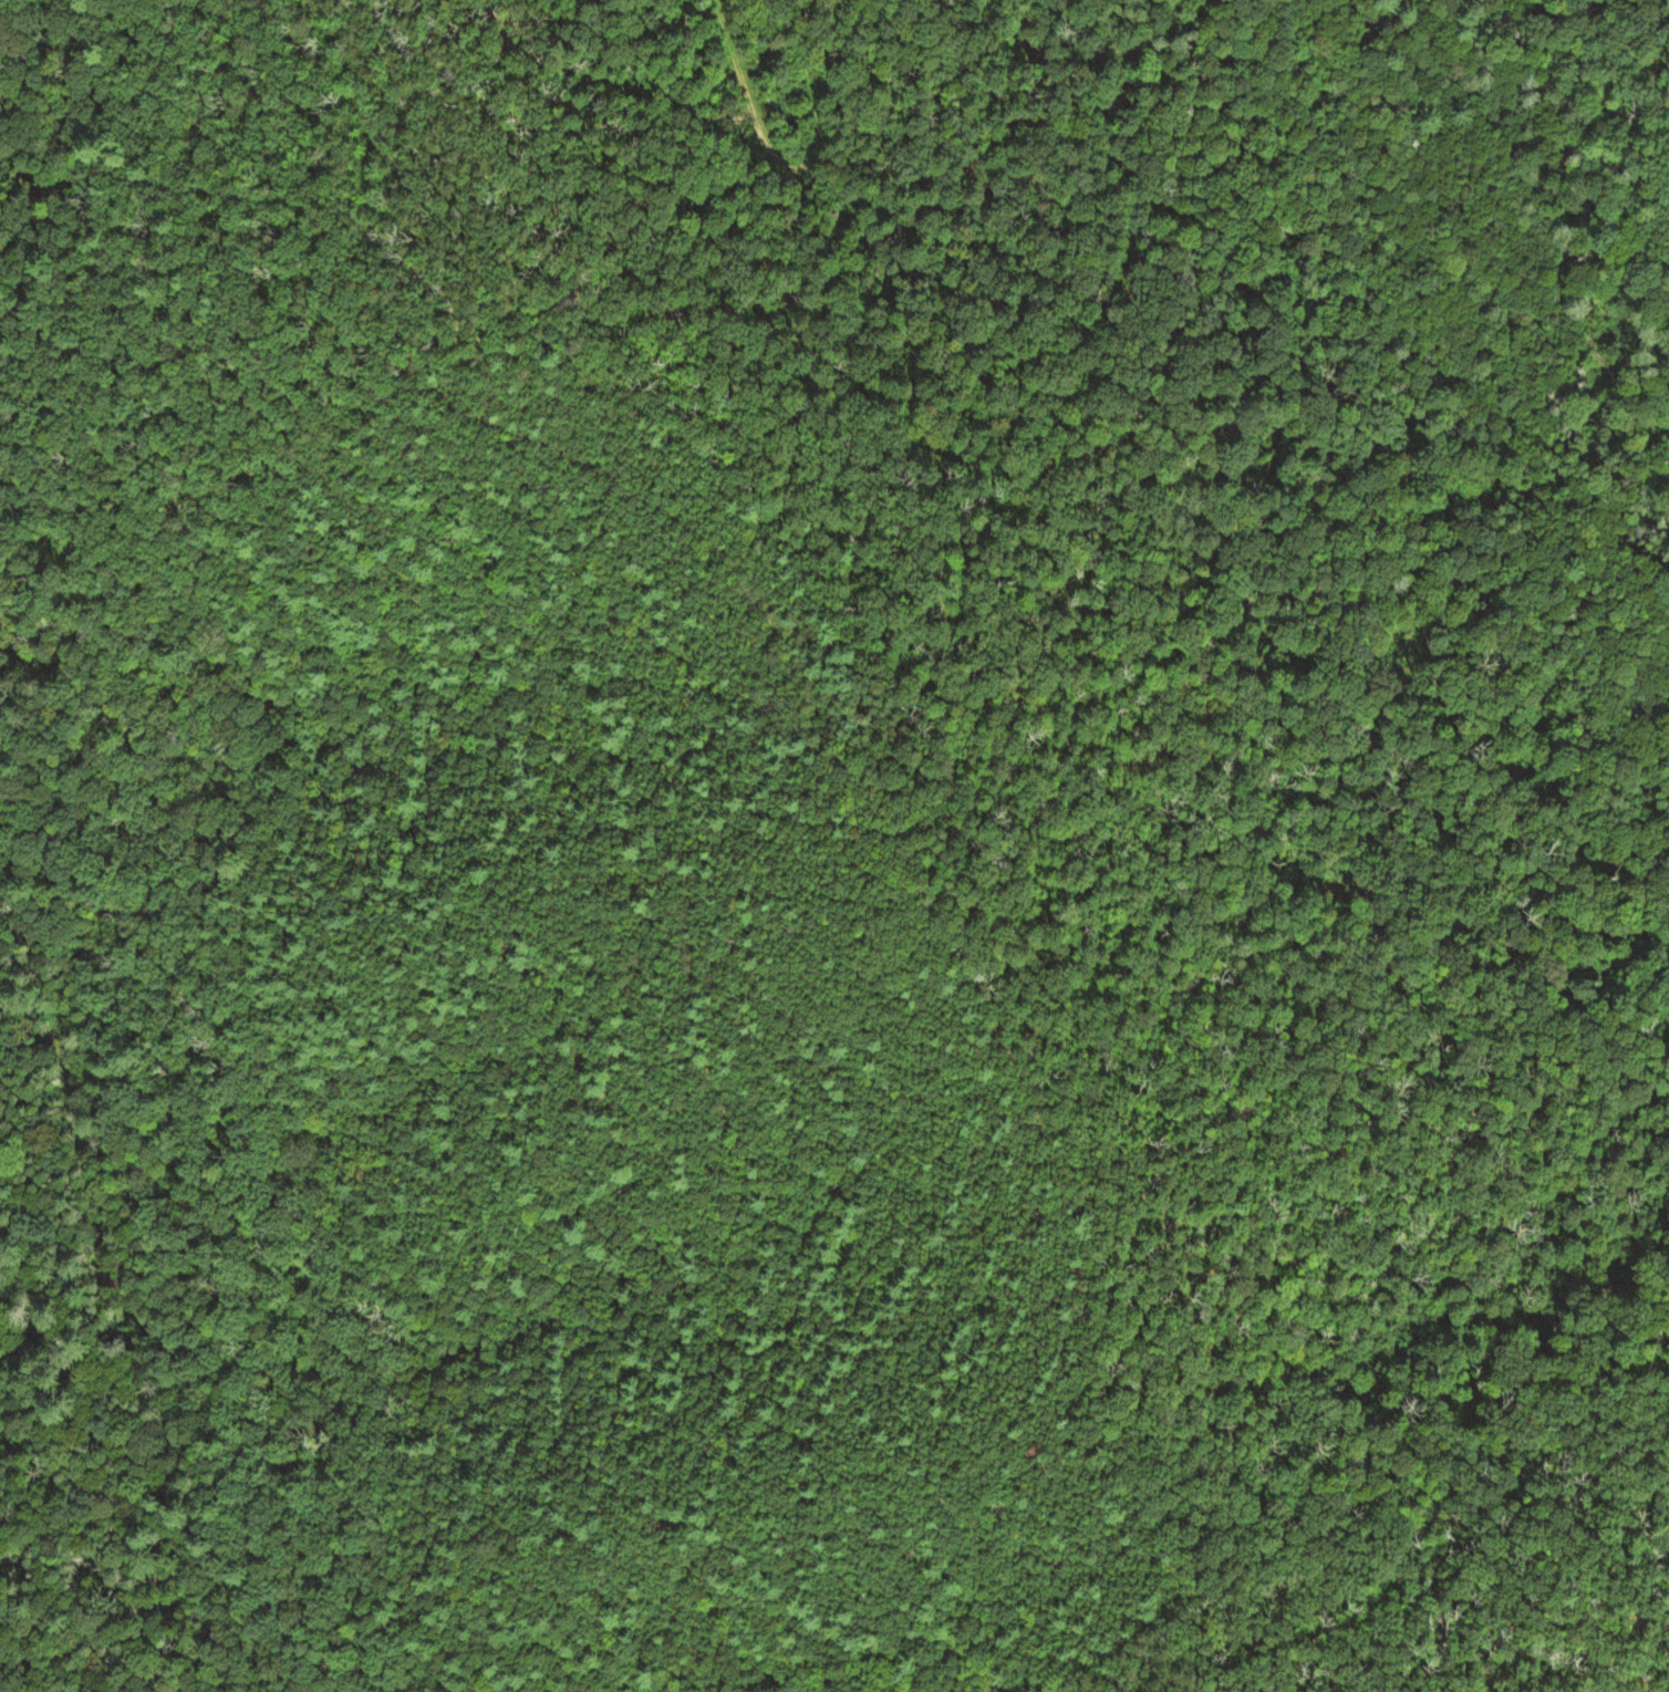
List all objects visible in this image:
road: (1646, 61)
road: (739, 79)
road: (860, 255)

